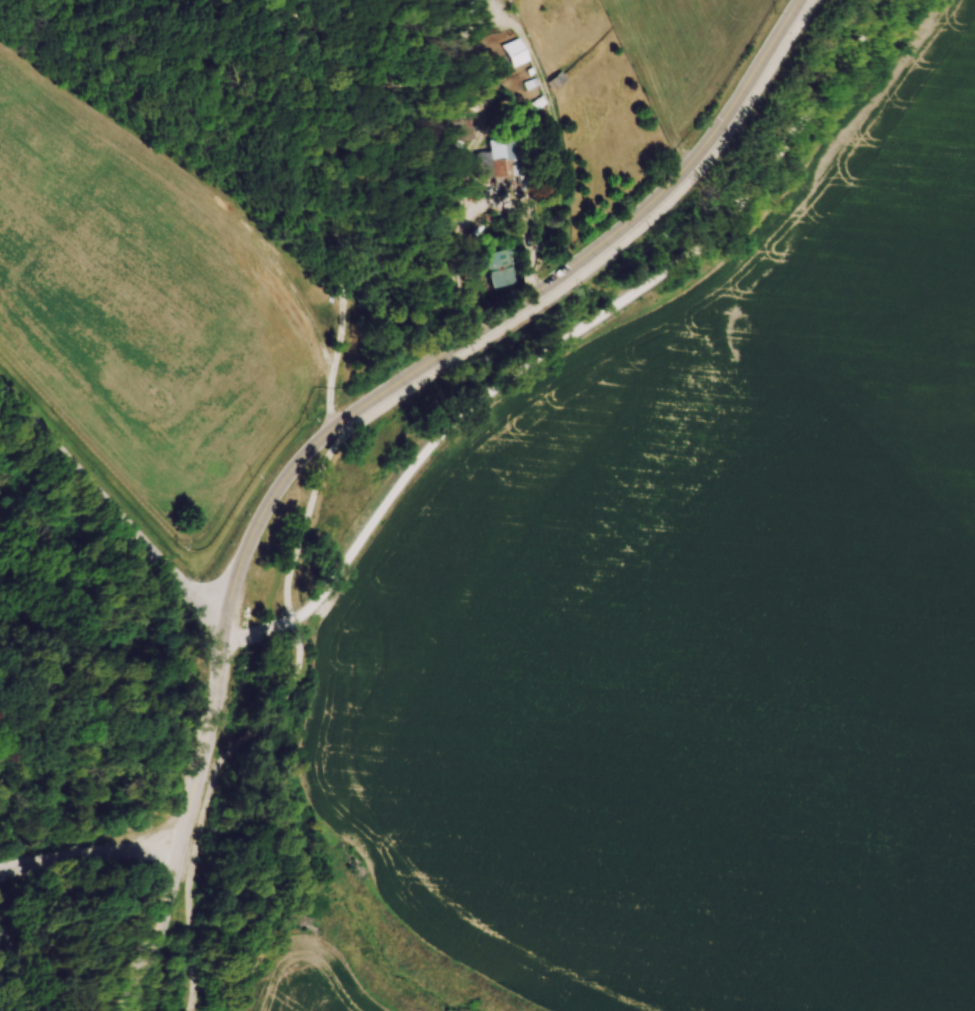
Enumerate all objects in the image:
building: (474, 7)
building: (501, 169)
road: (745, 210)
building: (493, 270)
road: (527, 310)
road: (504, 313)
road: (111, 509)
road: (25, 567)
road: (64, 576)
road: (298, 647)
road: (222, 660)
park: (142, 680)
road: (284, 695)
road: (214, 708)
road: (106, 732)
road: (245, 735)
park: (82, 739)
road: (88, 860)
road: (174, 864)
road: (189, 879)
road: (87, 932)
road: (34, 957)

